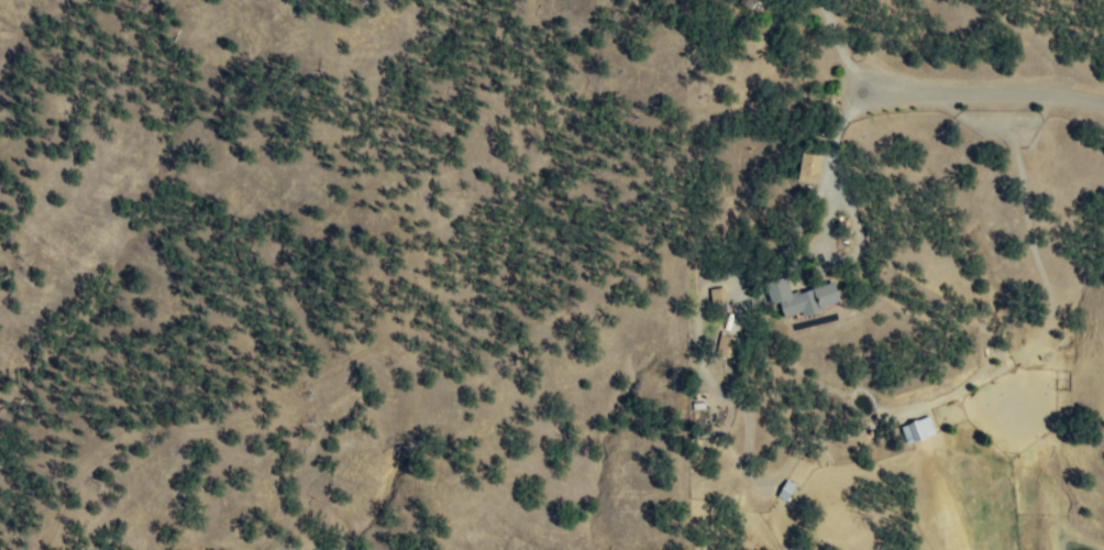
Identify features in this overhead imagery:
road: (991, 95)
building: (804, 168)
road: (848, 211)
building: (714, 295)
building: (797, 298)
building: (721, 345)

